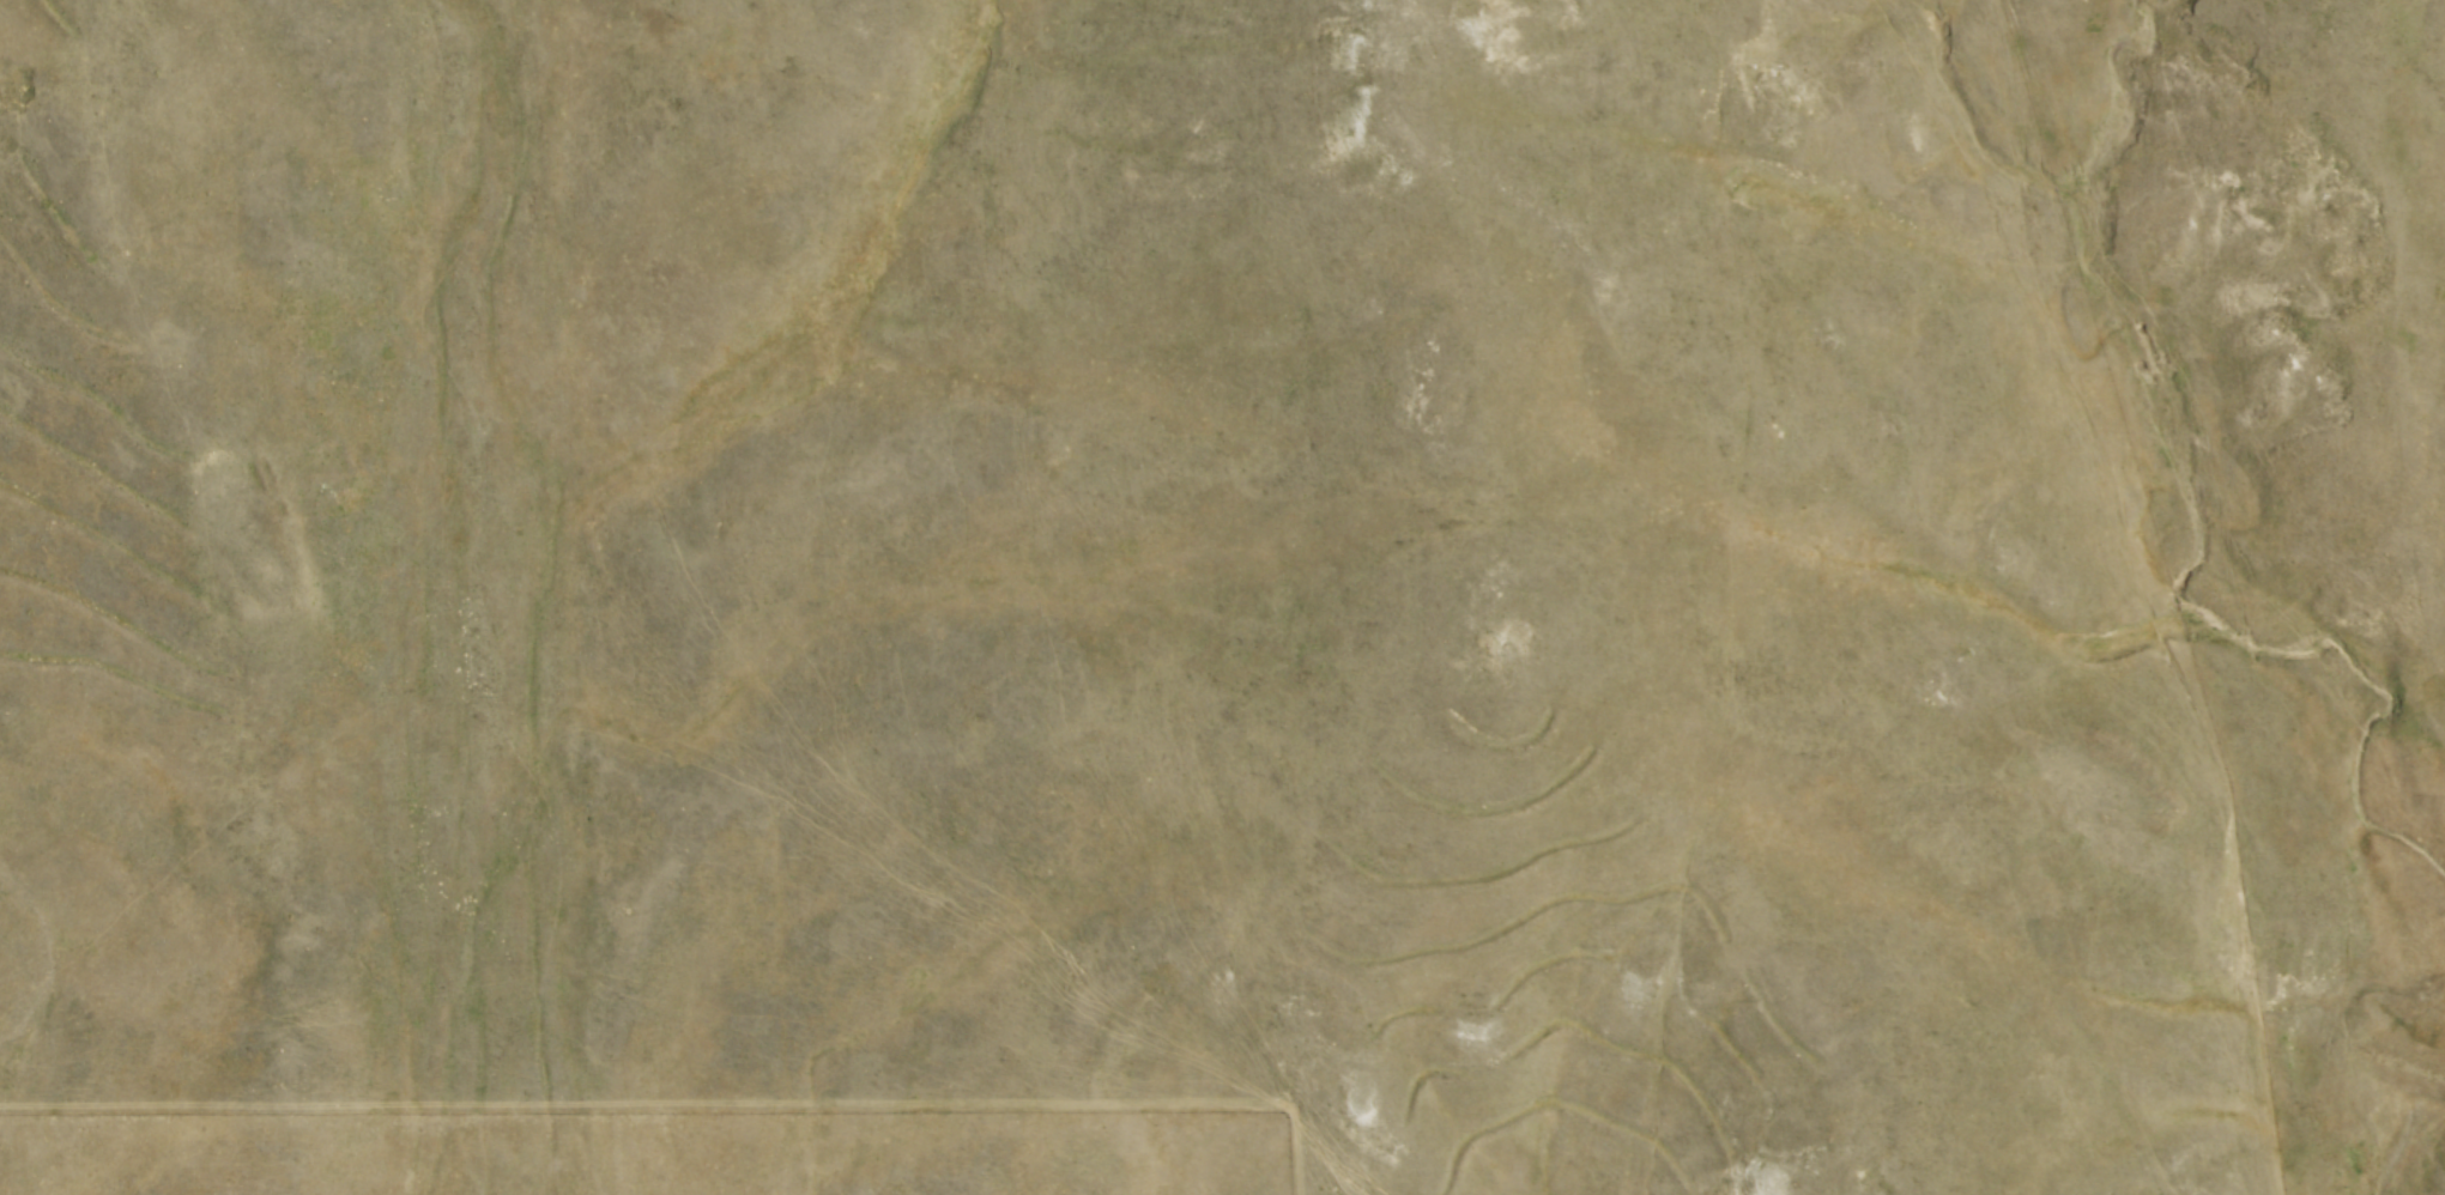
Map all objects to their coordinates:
dam: (2382, 1044)

